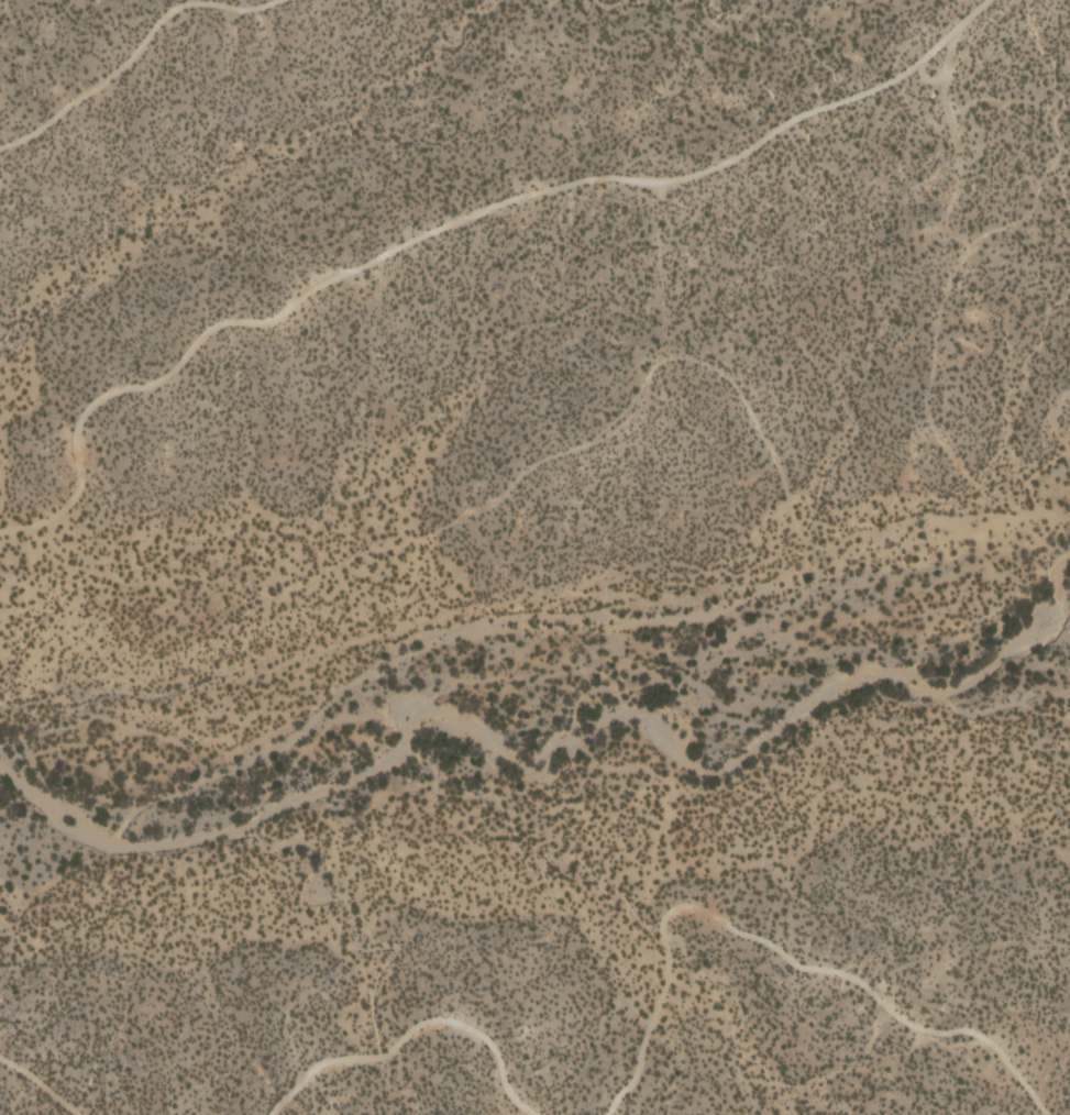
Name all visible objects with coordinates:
road: (450, 228)
road: (774, 949)
road: (411, 1030)
road: (42, 1082)

